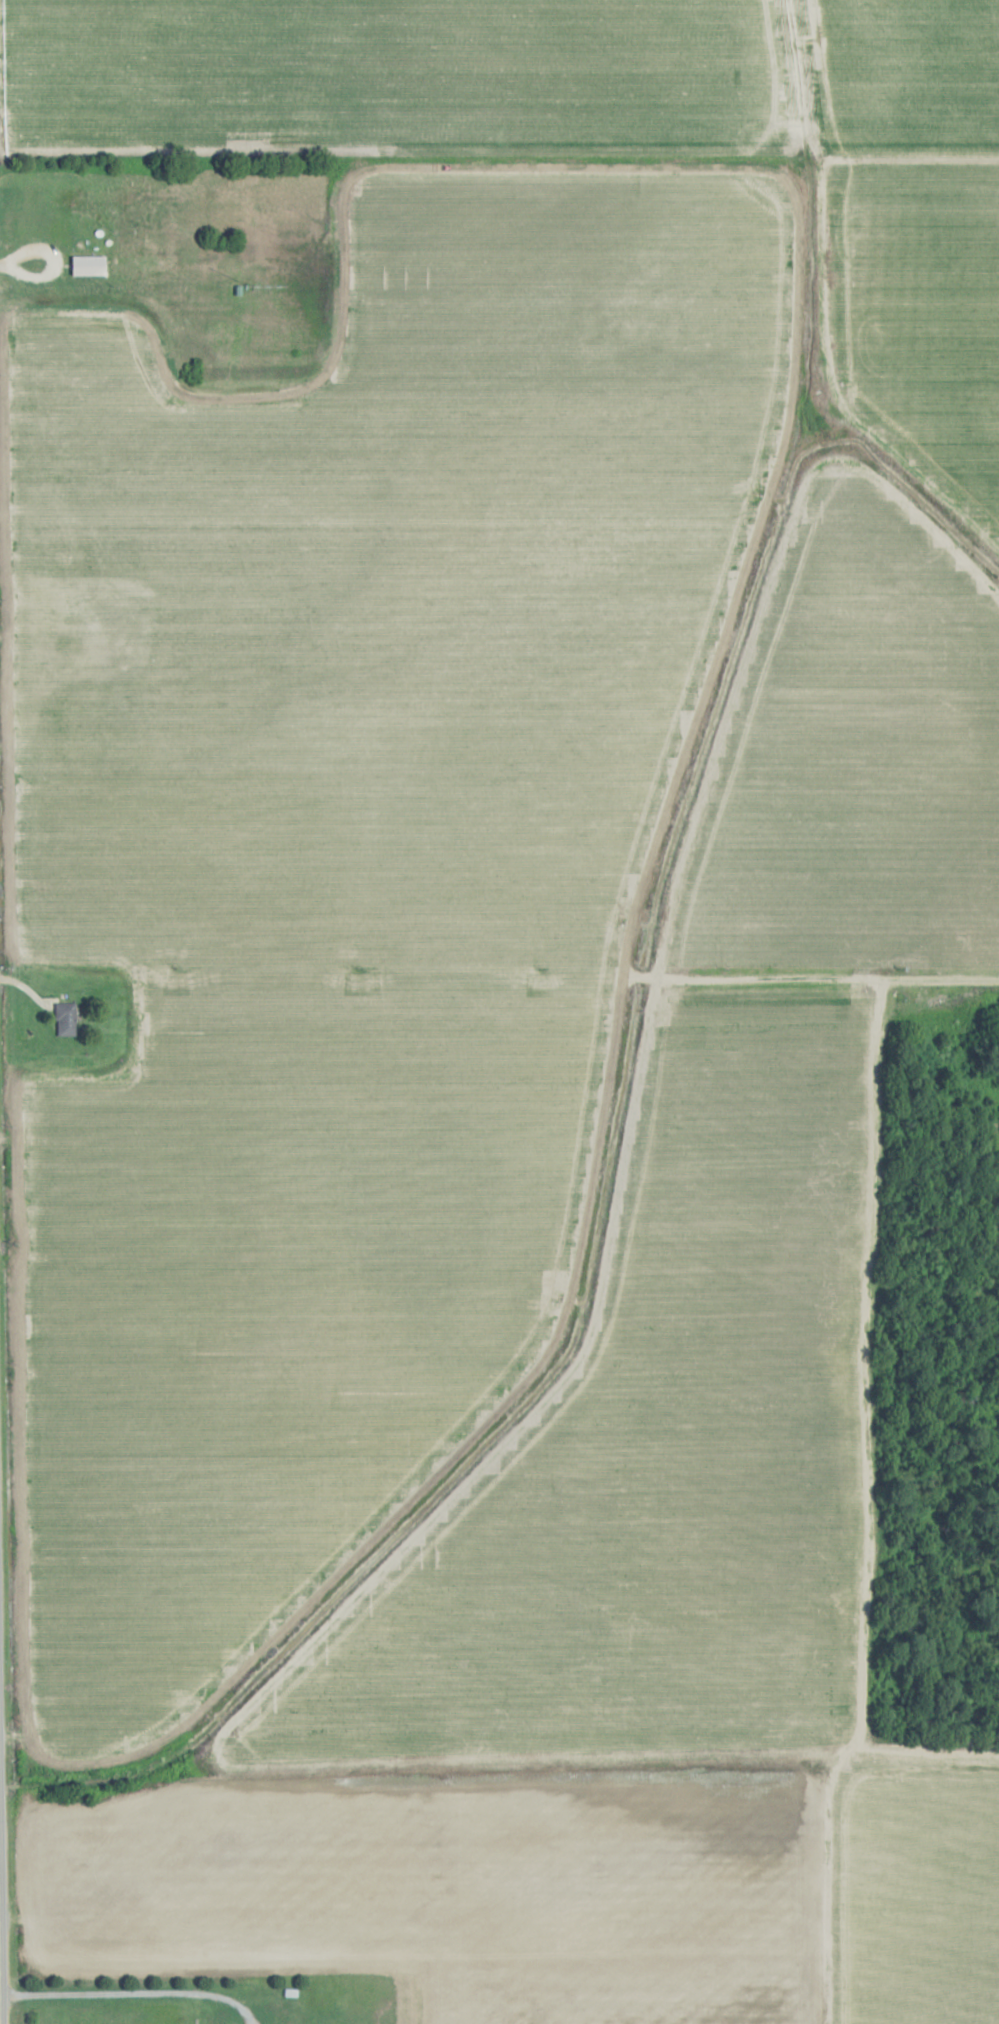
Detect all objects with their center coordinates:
building: (88, 266)
building: (73, 621)
building: (66, 1019)
road: (556, 1333)
road: (0, 1975)
road: (145, 1988)

